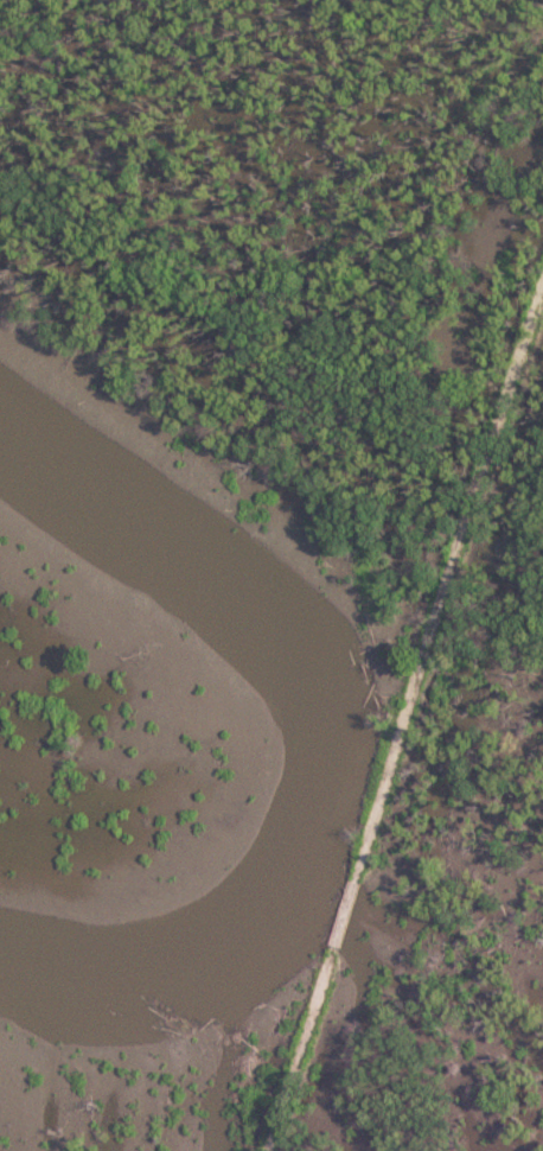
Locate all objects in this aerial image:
road: (409, 713)
river: (353, 752)

